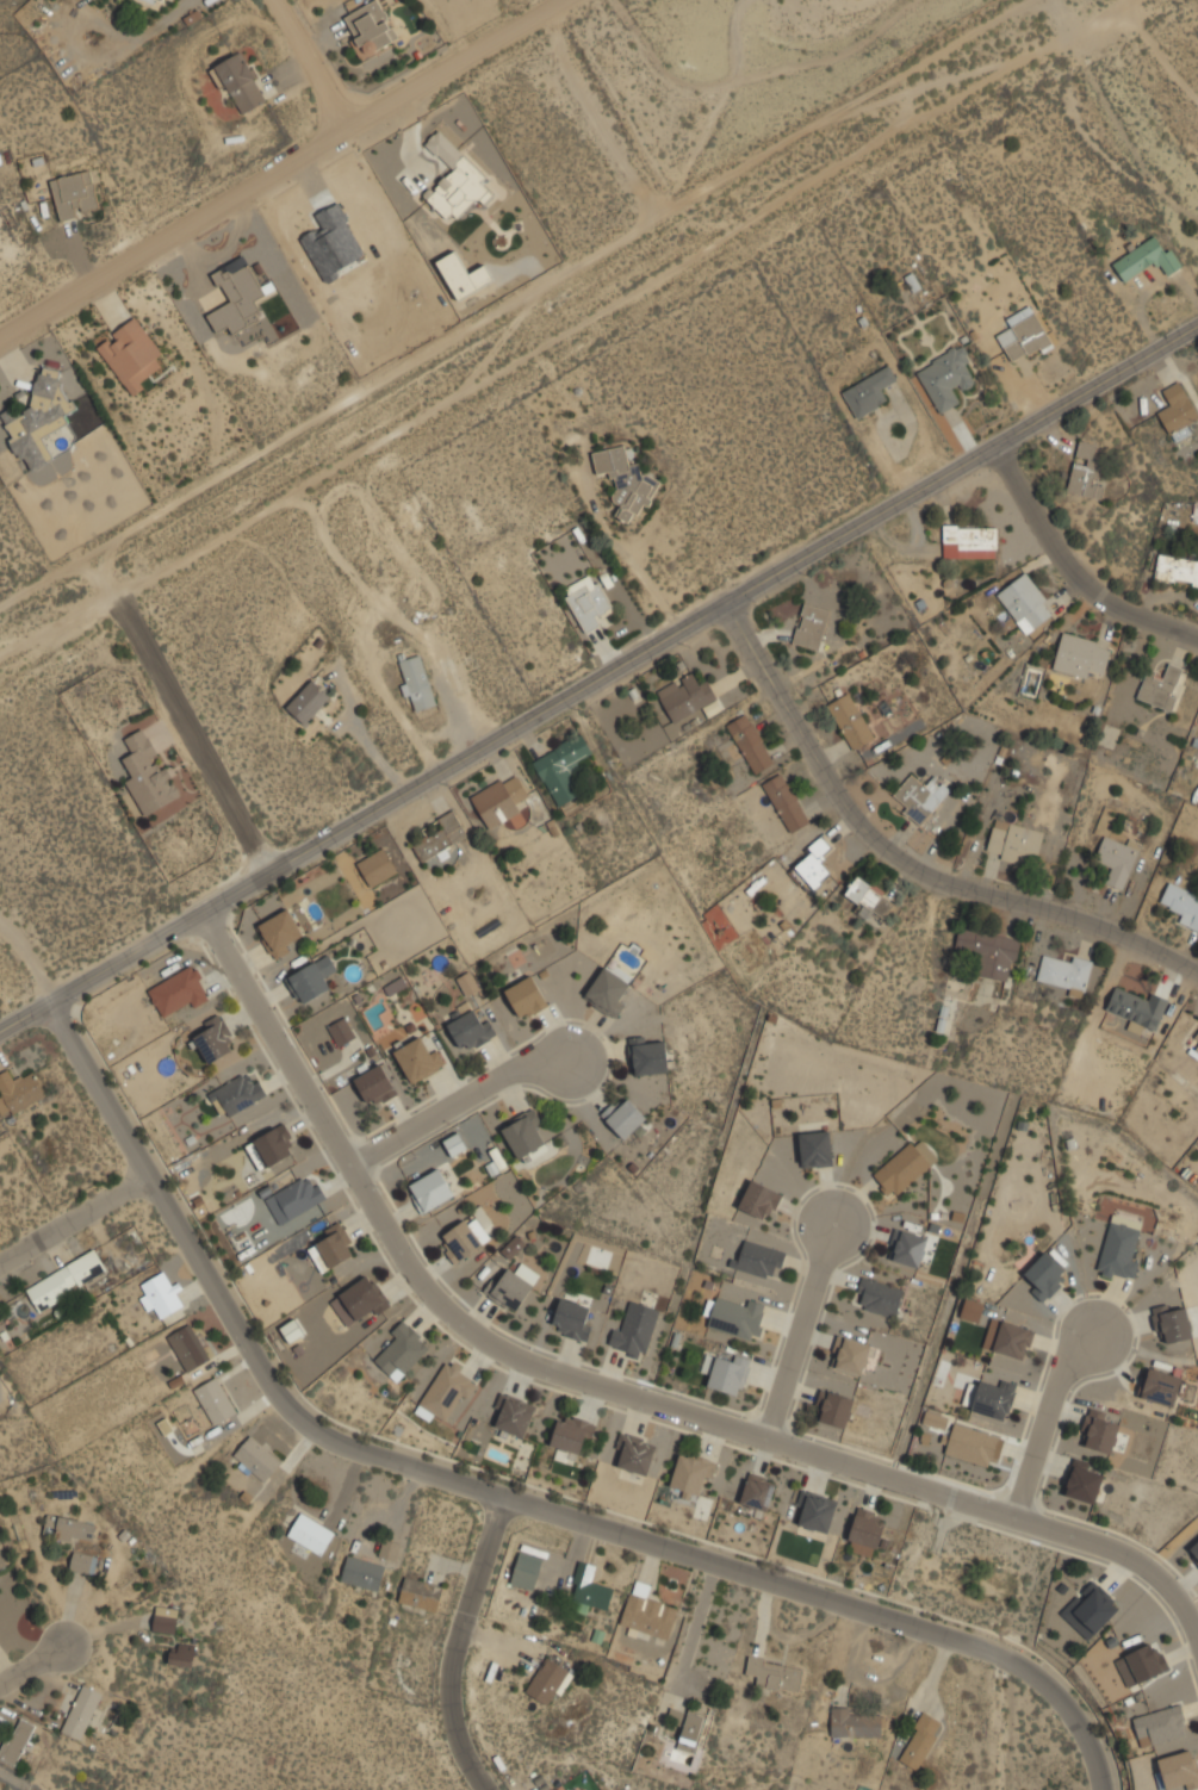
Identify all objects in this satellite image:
building: (157, 1)
building: (370, 26)
road: (308, 62)
building: (240, 81)
road: (279, 167)
building: (454, 179)
building: (75, 193)
building: (1147, 259)
building: (236, 297)
road: (559, 334)
building: (1023, 334)
building: (130, 354)
building: (946, 377)
building: (869, 391)
building: (1177, 409)
building: (38, 419)
building: (1087, 471)
building: (627, 480)
building: (1196, 510)
building: (969, 540)
road: (1073, 568)
building: (1177, 570)
building: (586, 599)
building: (1026, 602)
building: (812, 626)
building: (1081, 654)
road: (597, 676)
building: (417, 682)
building: (1161, 685)
building: (685, 700)
building: (309, 701)
building: (851, 721)
road: (203, 729)
building: (751, 742)
building: (561, 767)
building: (148, 773)
building: (919, 797)
building: (499, 800)
building: (787, 801)
building: (441, 835)
building: (1013, 840)
road: (906, 856)
building: (1118, 858)
building: (813, 864)
building: (377, 868)
building: (870, 896)
building: (1183, 903)
building: (280, 932)
building: (988, 951)
building: (1063, 972)
building: (311, 978)
building: (468, 983)
building: (179, 992)
building: (609, 992)
building: (526, 996)
building: (1137, 1008)
building: (472, 1030)
building: (342, 1031)
building: (1196, 1036)
building: (213, 1038)
building: (1196, 1040)
building: (1196, 1049)
building: (420, 1057)
building: (650, 1058)
building: (374, 1086)
building: (18, 1092)
building: (237, 1093)
road: (458, 1102)
building: (625, 1117)
building: (524, 1135)
building: (272, 1146)
building: (814, 1148)
building: (905, 1167)
building: (430, 1189)
building: (294, 1198)
building: (759, 1199)
building: (315, 1211)
road: (74, 1218)
building: (464, 1238)
building: (513, 1247)
building: (910, 1248)
building: (1119, 1248)
building: (333, 1250)
building: (758, 1258)
building: (1042, 1276)
building: (67, 1279)
building: (513, 1286)
building: (161, 1294)
building: (877, 1297)
building: (360, 1300)
building: (972, 1310)
building: (734, 1316)
building: (572, 1319)
building: (1174, 1324)
building: (635, 1330)
road: (799, 1332)
building: (1012, 1340)
building: (188, 1347)
building: (401, 1350)
building: (852, 1355)
building: (730, 1373)
building: (1160, 1386)
road: (612, 1391)
building: (448, 1393)
building: (993, 1398)
building: (215, 1400)
building: (837, 1410)
building: (515, 1416)
building: (936, 1419)
road: (1044, 1421)
building: (1100, 1430)
building: (571, 1432)
building: (975, 1444)
building: (638, 1454)
building: (256, 1459)
building: (693, 1473)
building: (1084, 1480)
building: (759, 1491)
road: (498, 1496)
building: (818, 1511)
building: (70, 1528)
building: (865, 1531)
building: (311, 1533)
building: (389, 1549)
building: (1194, 1549)
building: (83, 1562)
building: (527, 1570)
building: (361, 1572)
building: (590, 1587)
building: (420, 1593)
building: (1090, 1610)
building: (648, 1612)
building: (165, 1620)
road: (455, 1645)
building: (182, 1654)
road: (30, 1659)
building: (1142, 1664)
building: (775, 1674)
building: (547, 1679)
building: (81, 1711)
building: (857, 1721)
building: (687, 1724)
building: (1160, 1726)
building: (15, 1740)
building: (920, 1740)
building: (1179, 1770)

